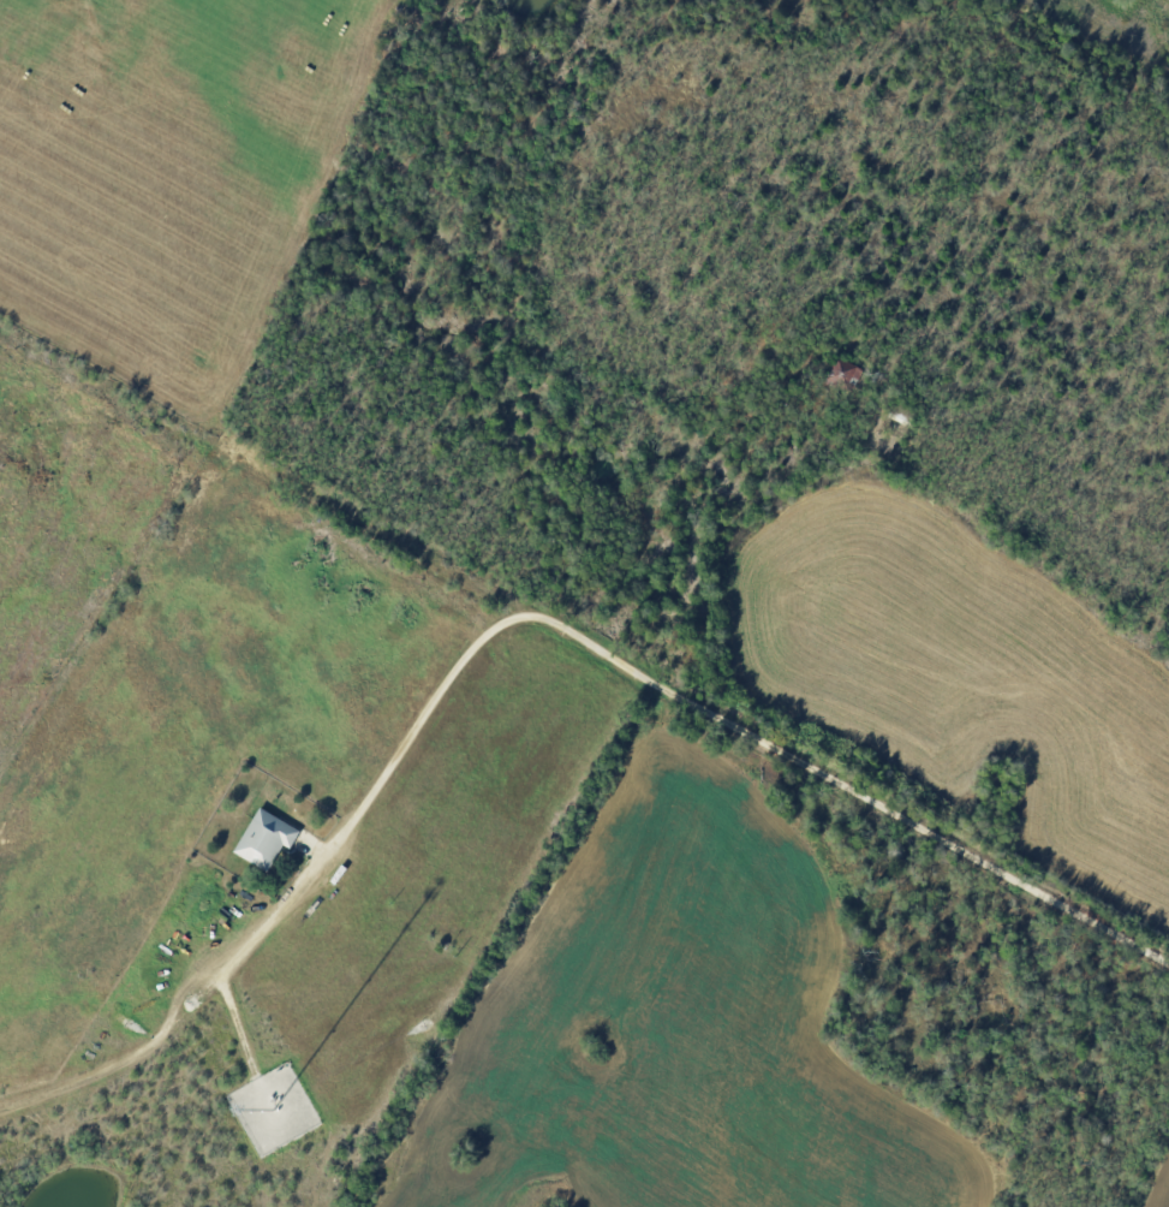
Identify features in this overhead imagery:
road: (670, 688)
building: (266, 839)
road: (154, 1037)

